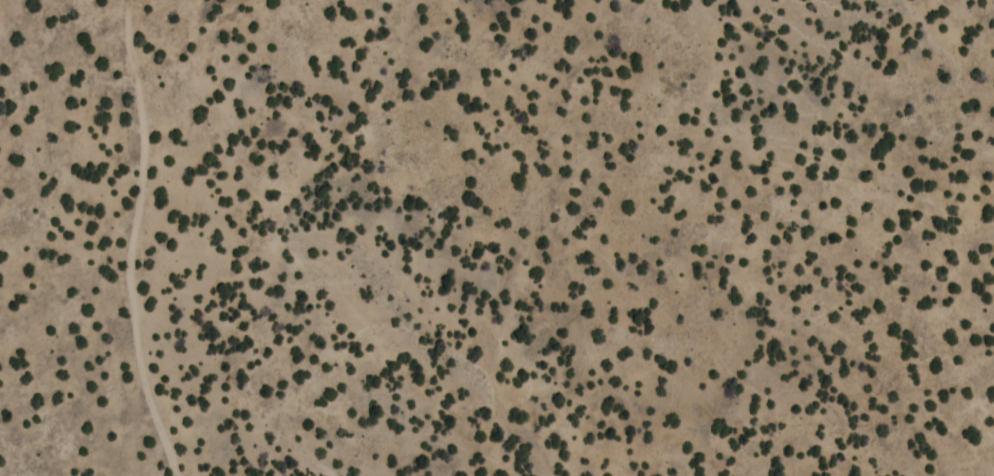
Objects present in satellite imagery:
road: (175, 237)

